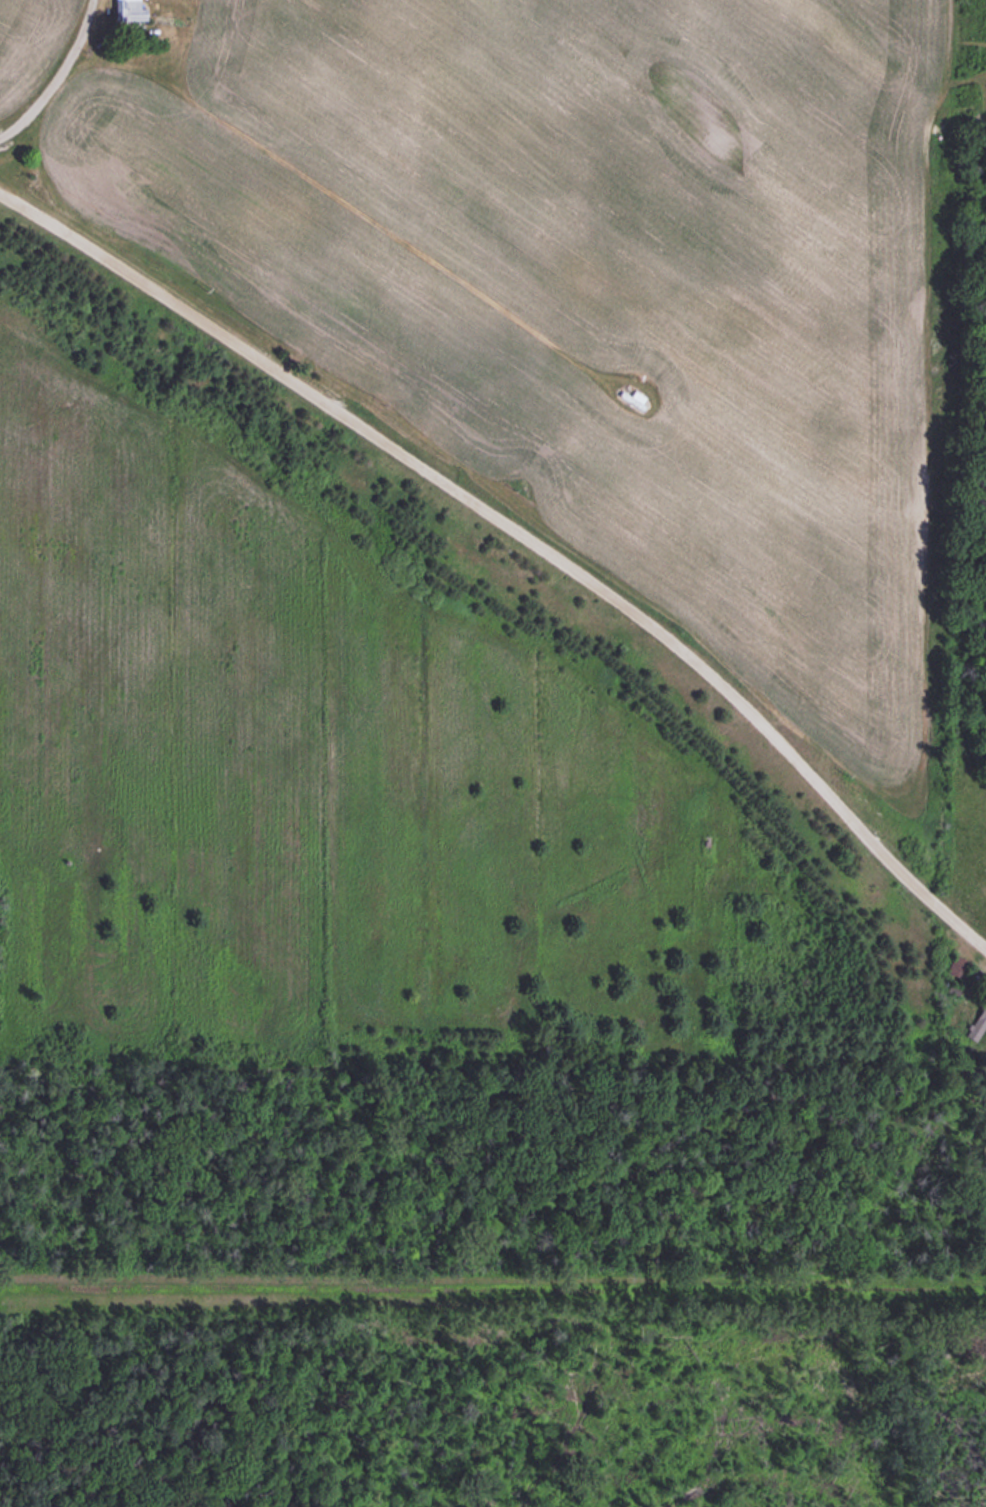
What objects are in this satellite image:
building: (129, 10)
road: (61, 74)
road: (521, 532)
building: (955, 964)
building: (975, 1020)

